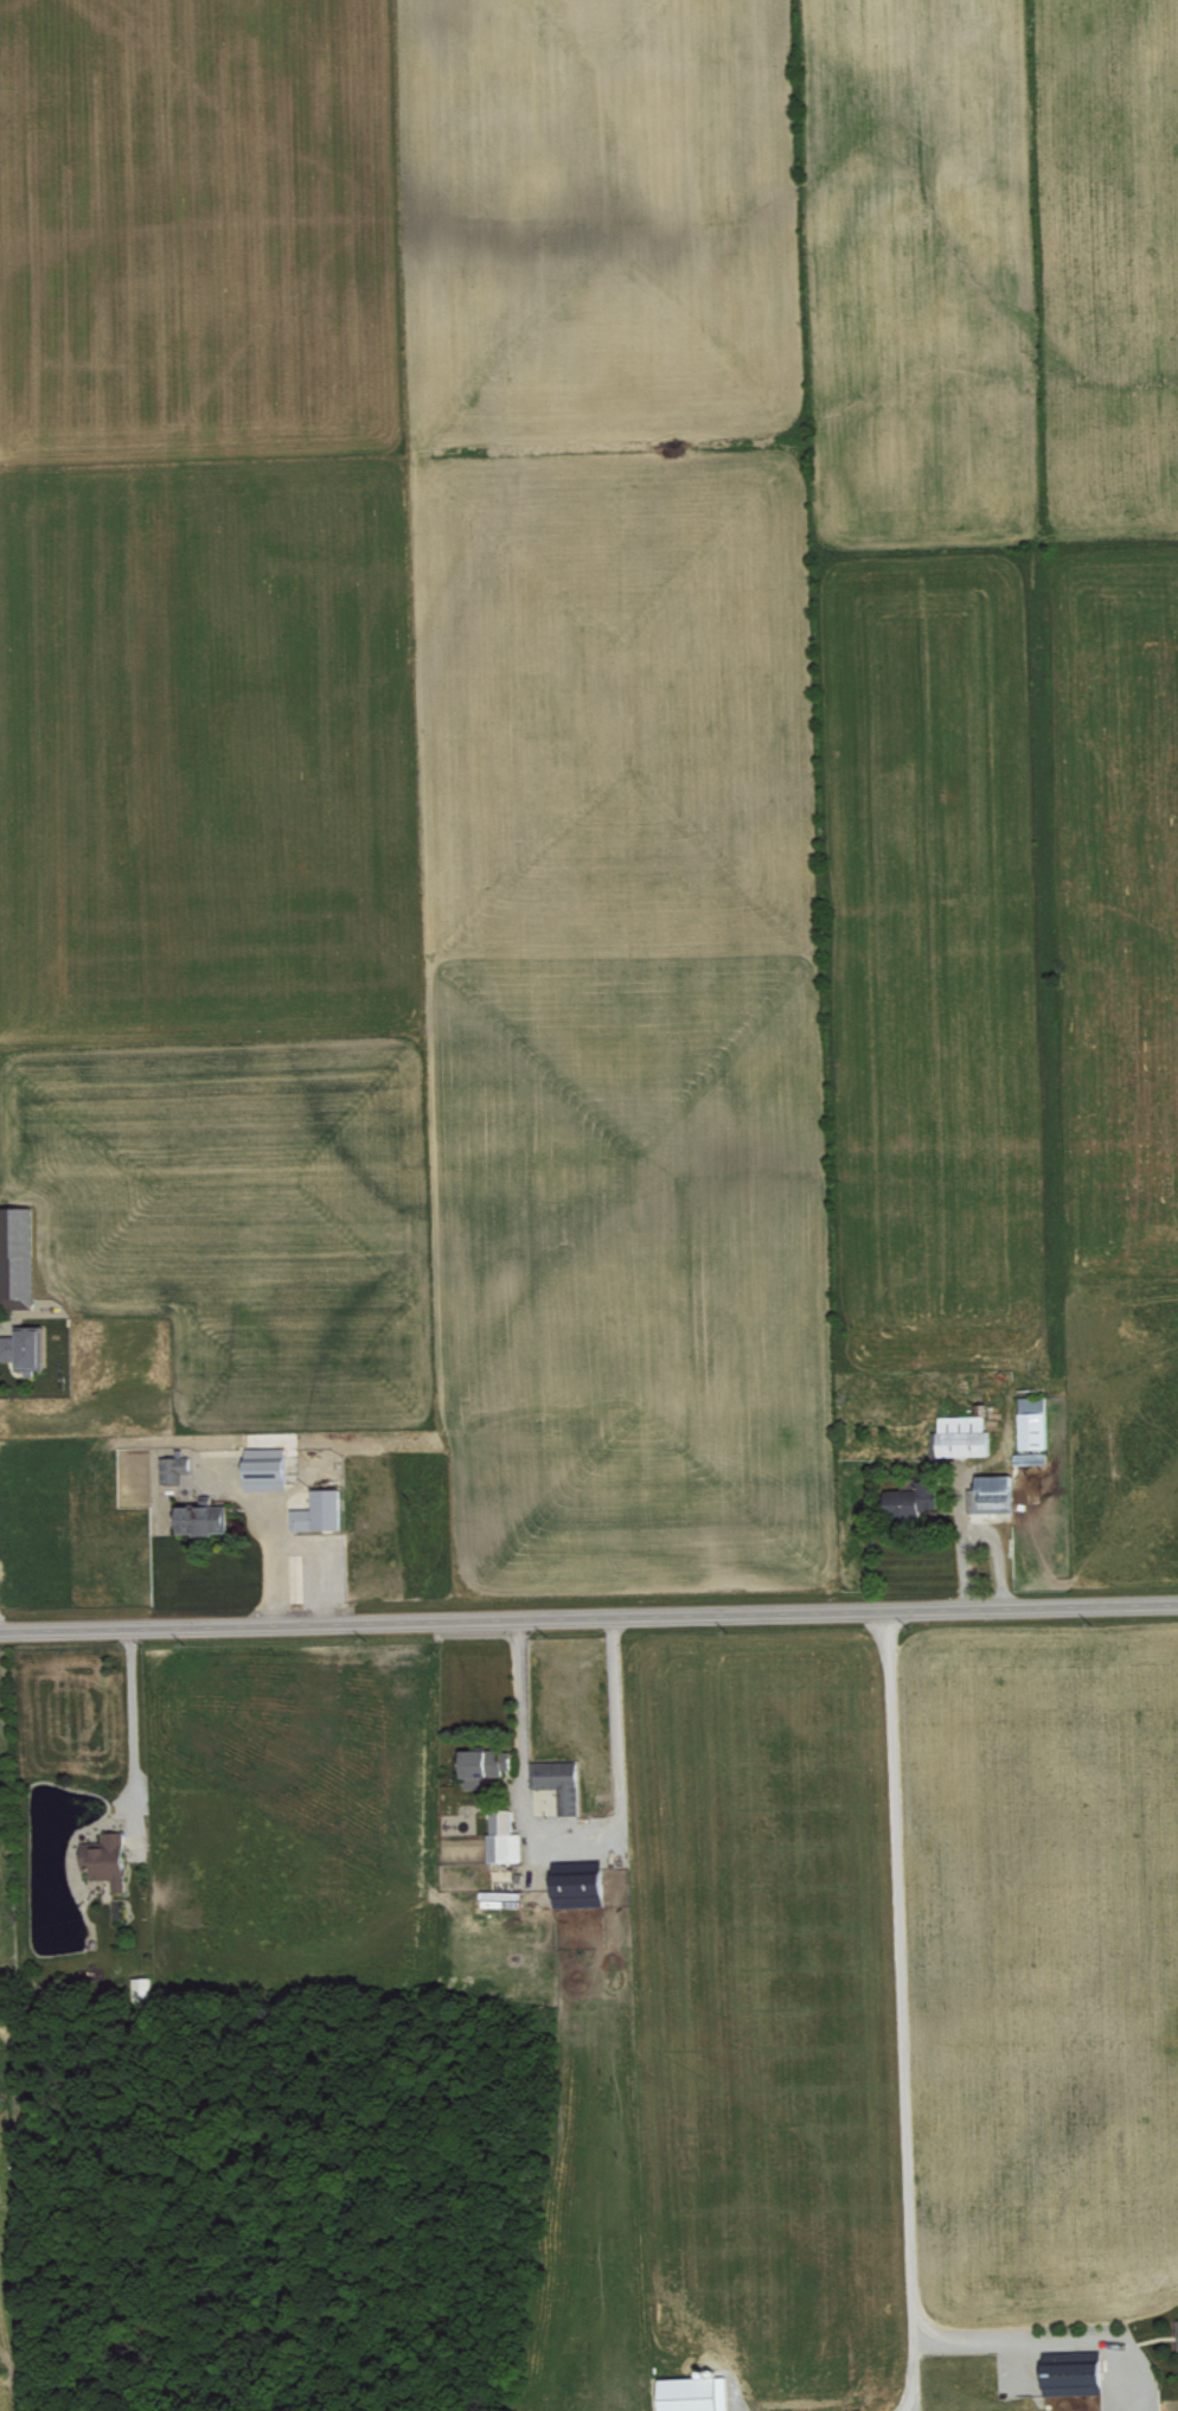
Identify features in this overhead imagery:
building: (17, 1256)
building: (26, 1347)
building: (1035, 1421)
building: (962, 1435)
building: (1031, 1457)
building: (268, 1458)
building: (175, 1466)
building: (993, 1495)
building: (915, 1498)
building: (320, 1510)
building: (204, 1517)
road: (299, 1540)
road: (274, 1584)
road: (589, 1620)
road: (134, 1733)
building: (489, 1761)
building: (561, 1782)
building: (505, 1836)
road: (572, 1838)
building: (108, 1857)
building: (582, 1887)
building: (143, 1987)
road: (899, 2014)
road: (1009, 2338)
building: (1076, 2378)
building: (698, 2393)

